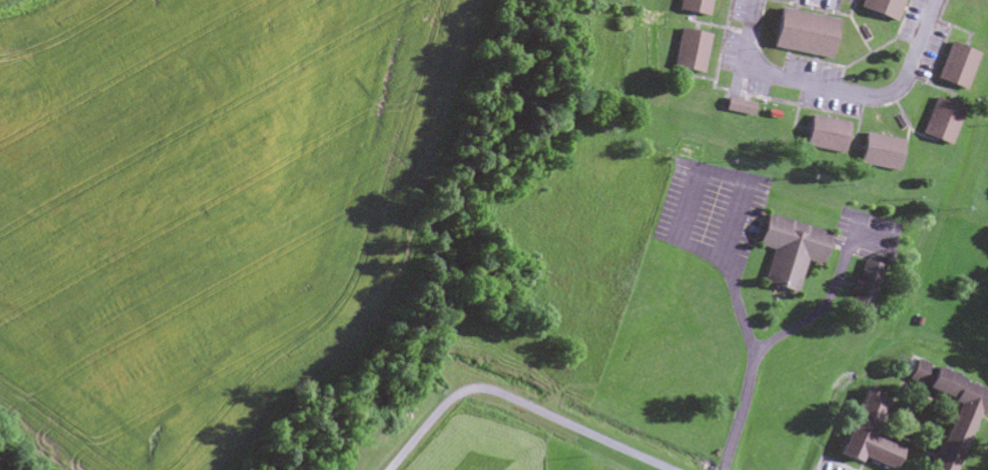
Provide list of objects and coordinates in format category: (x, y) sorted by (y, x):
building: (695, 6)
building: (882, 8)
building: (803, 33)
building: (690, 51)
building: (956, 66)
road: (840, 91)
building: (737, 107)
building: (940, 122)
building: (824, 134)
building: (879, 152)
building: (789, 250)
building: (864, 285)
road: (739, 419)
building: (866, 436)
building: (951, 441)

